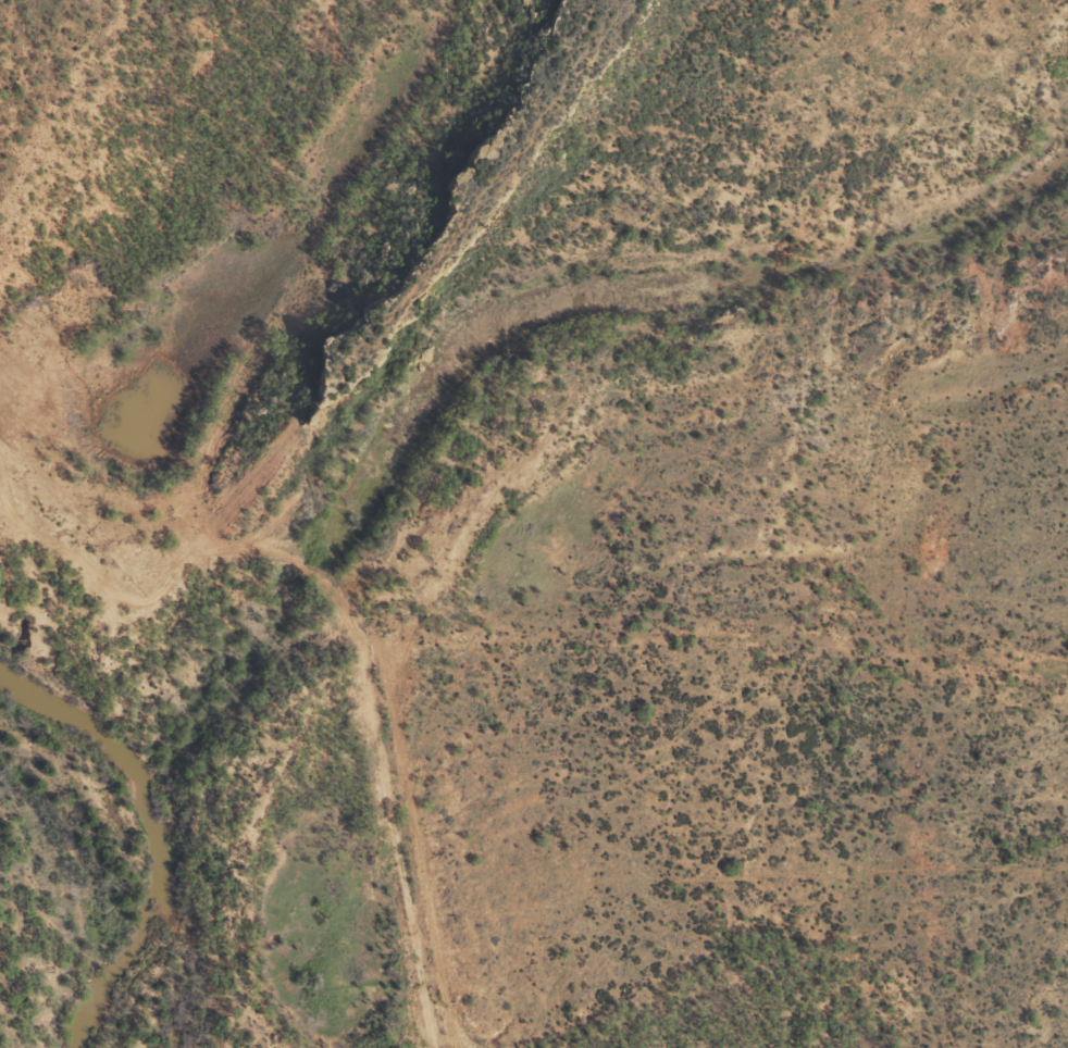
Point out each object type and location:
road: (707, 624)
river: (149, 838)

